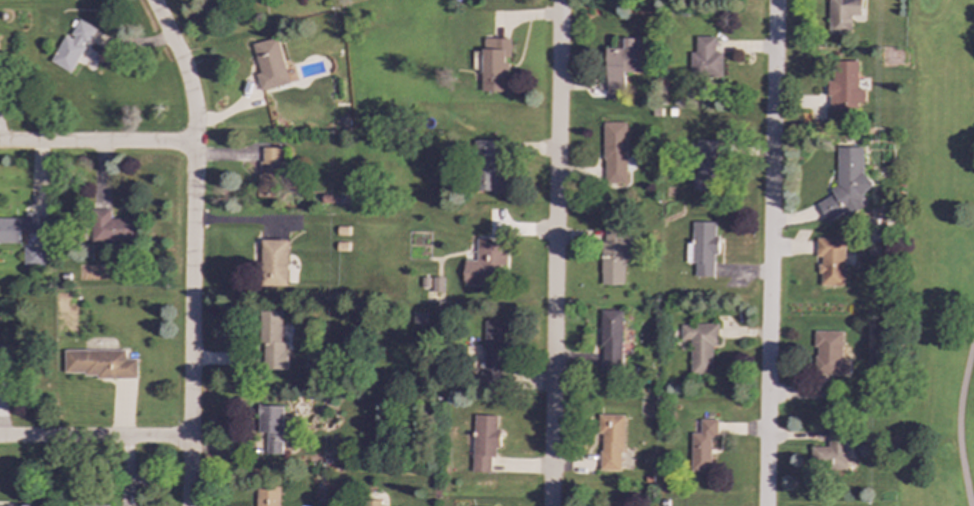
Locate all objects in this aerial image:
building: (842, 15)
building: (72, 46)
building: (705, 59)
building: (269, 64)
building: (494, 64)
building: (622, 66)
building: (845, 86)
road: (96, 143)
building: (614, 152)
building: (705, 165)
building: (488, 167)
building: (269, 172)
building: (847, 184)
building: (17, 227)
building: (112, 227)
building: (702, 248)
road: (192, 249)
road: (553, 252)
road: (770, 253)
building: (614, 255)
building: (33, 257)
park: (934, 257)
building: (831, 260)
building: (274, 262)
building: (484, 263)
building: (437, 286)
building: (610, 338)
building: (273, 342)
building: (700, 345)
building: (492, 351)
building: (4, 352)
building: (829, 354)
building: (100, 363)
road: (956, 418)
building: (270, 427)
road: (94, 438)
building: (483, 441)
building: (610, 441)
building: (702, 445)
building: (831, 450)
building: (265, 495)
building: (375, 503)
building: (612, 504)

